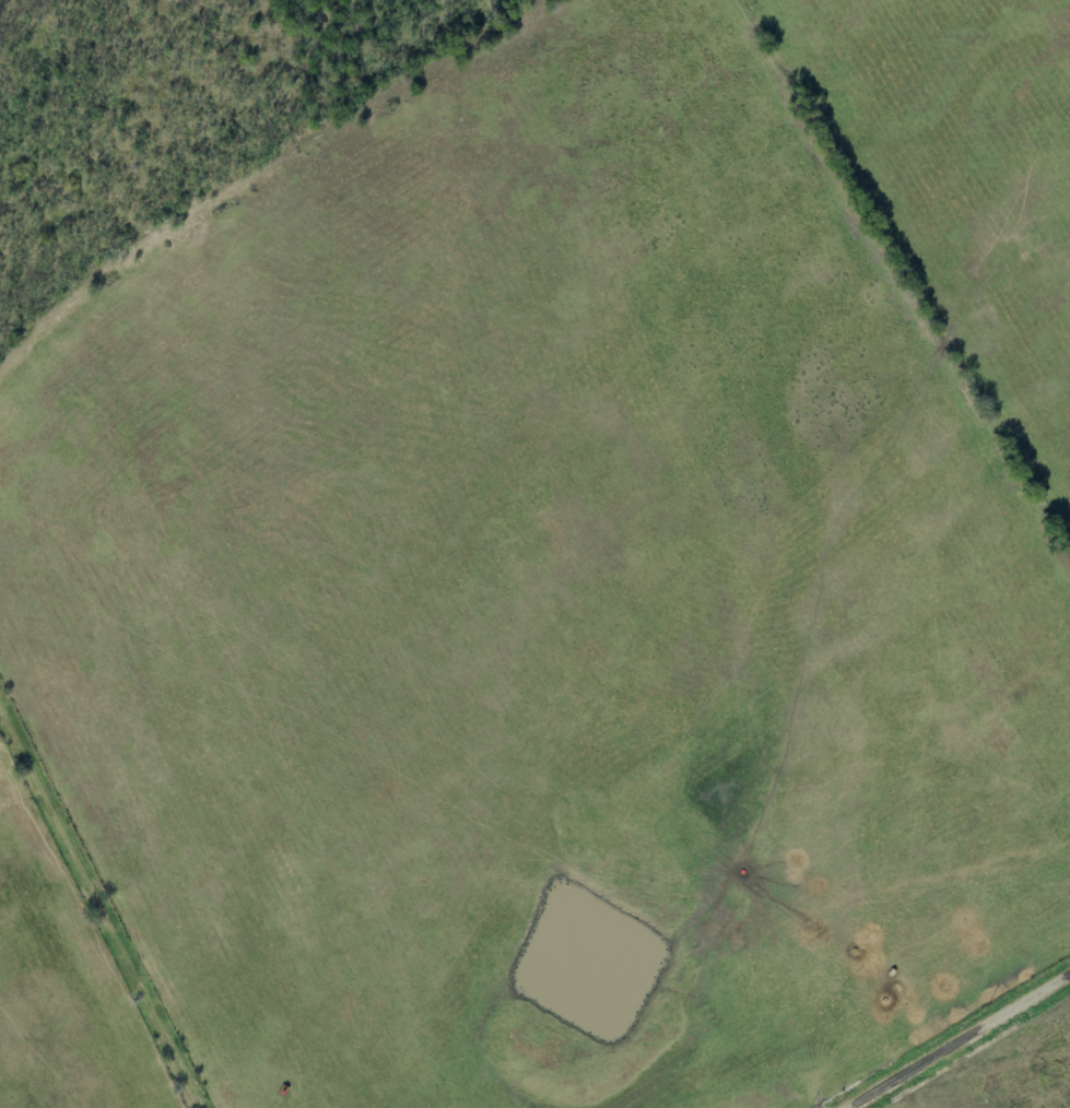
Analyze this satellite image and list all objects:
road: (964, 1044)

